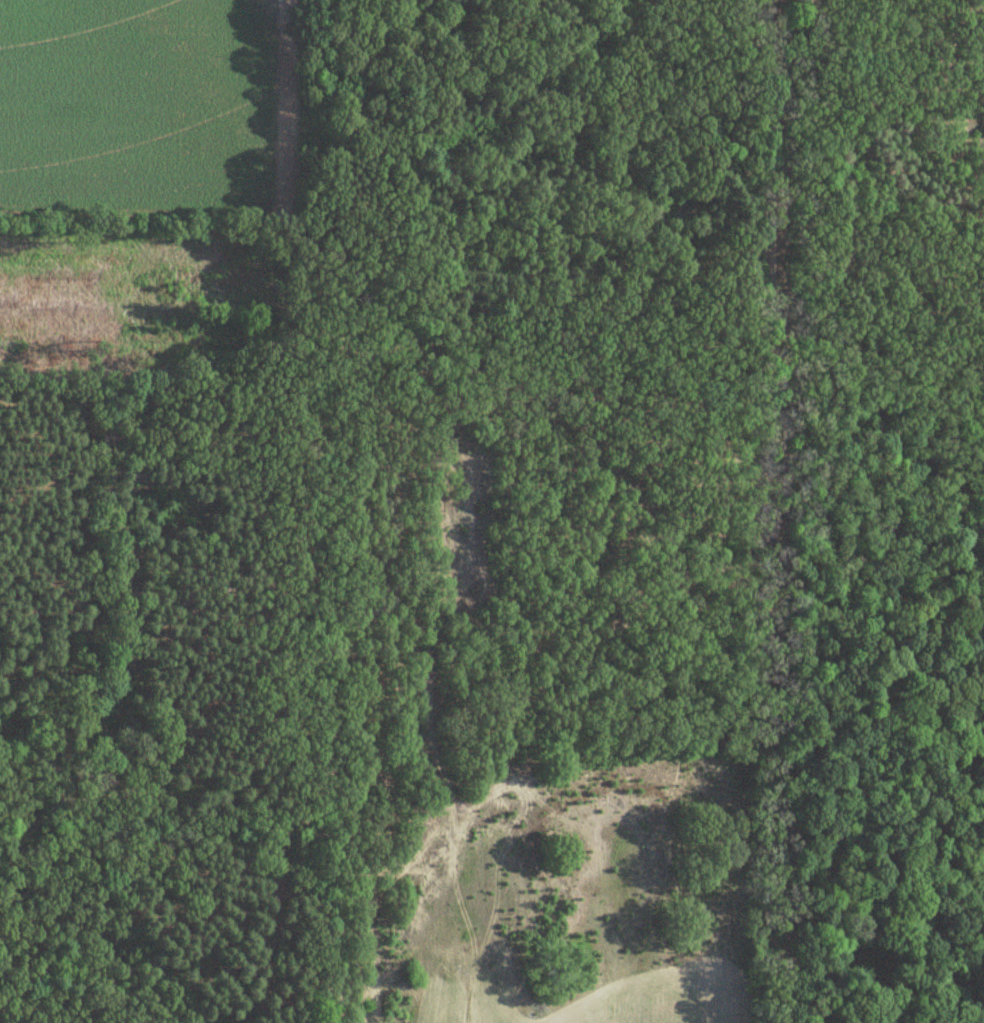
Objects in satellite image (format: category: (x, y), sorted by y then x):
road: (774, 511)

